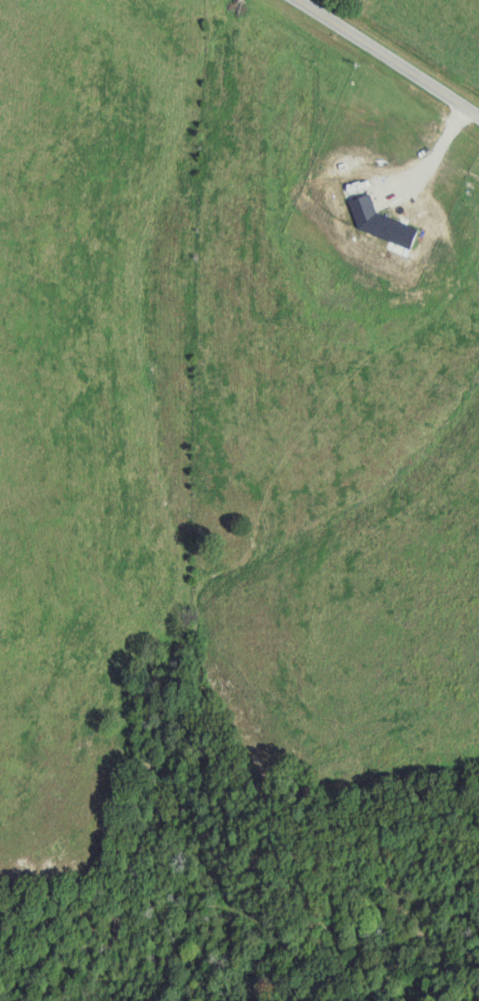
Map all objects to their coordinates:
road: (395, 54)

